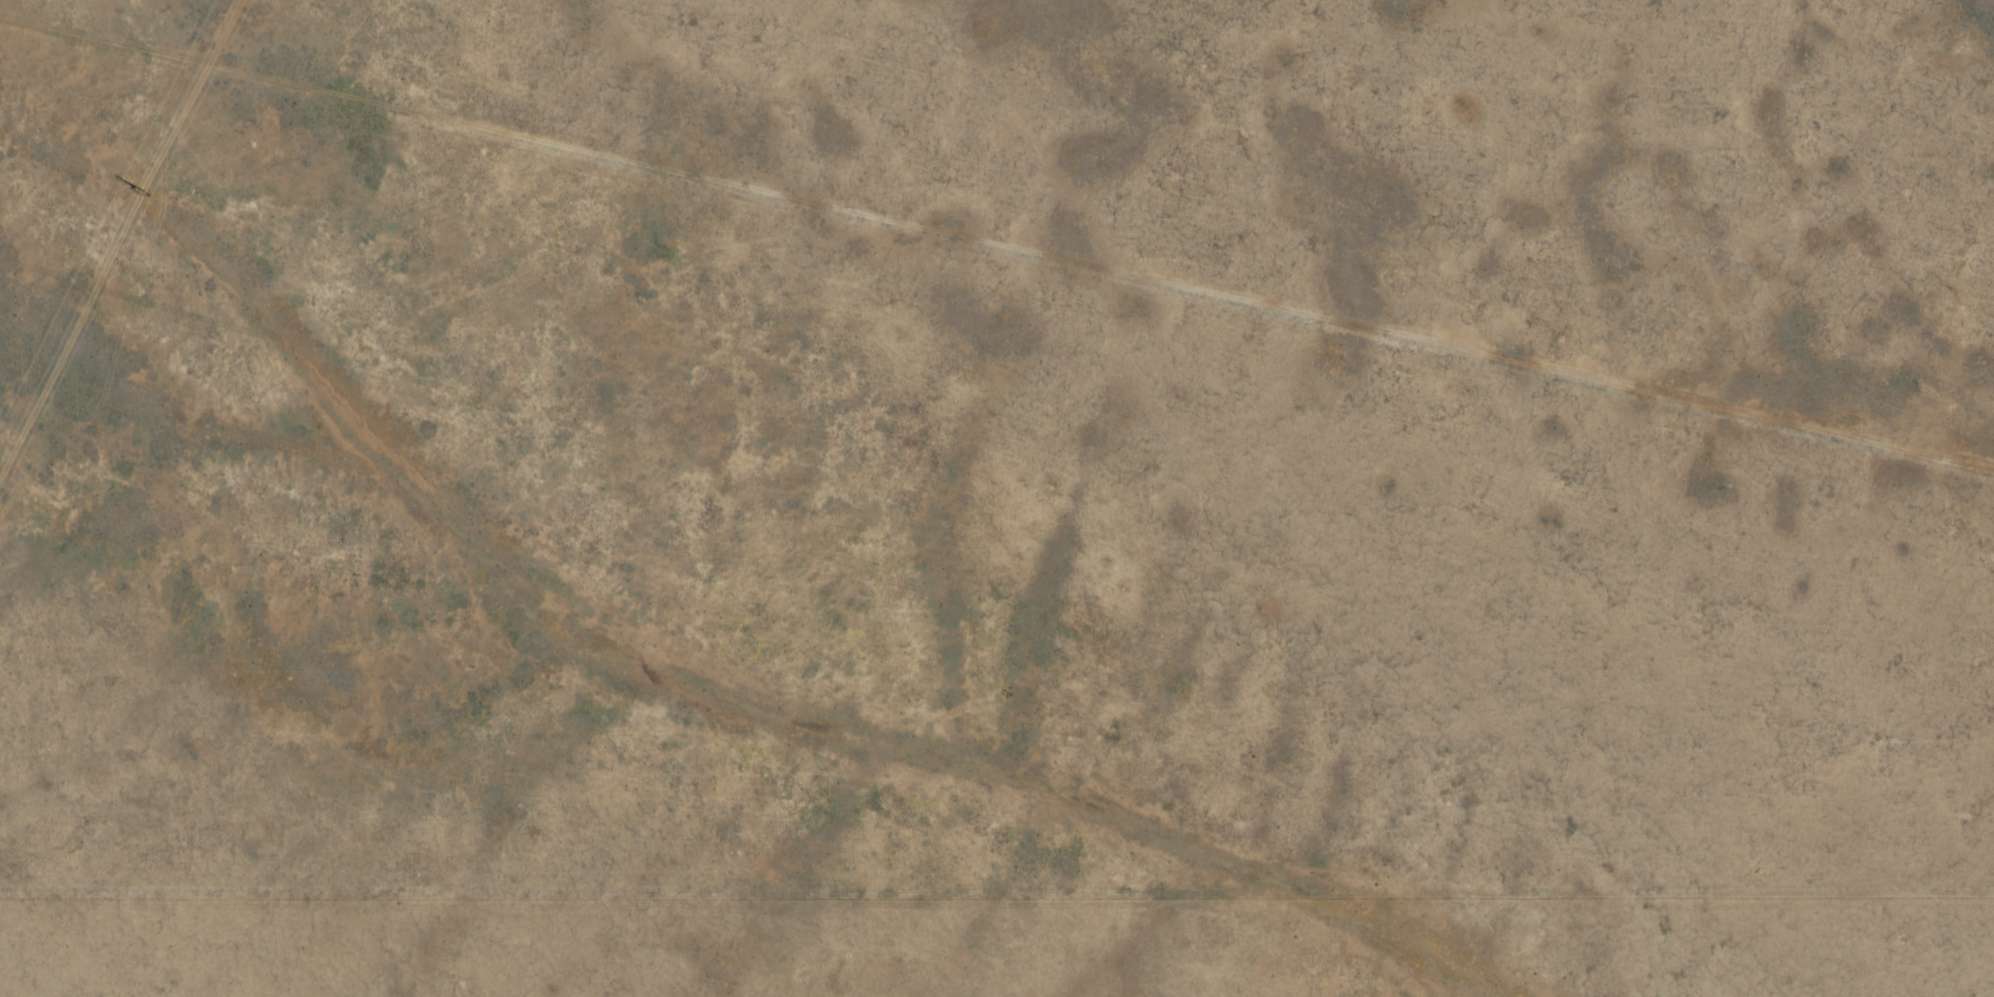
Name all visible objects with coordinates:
power tower: (144, 190)

